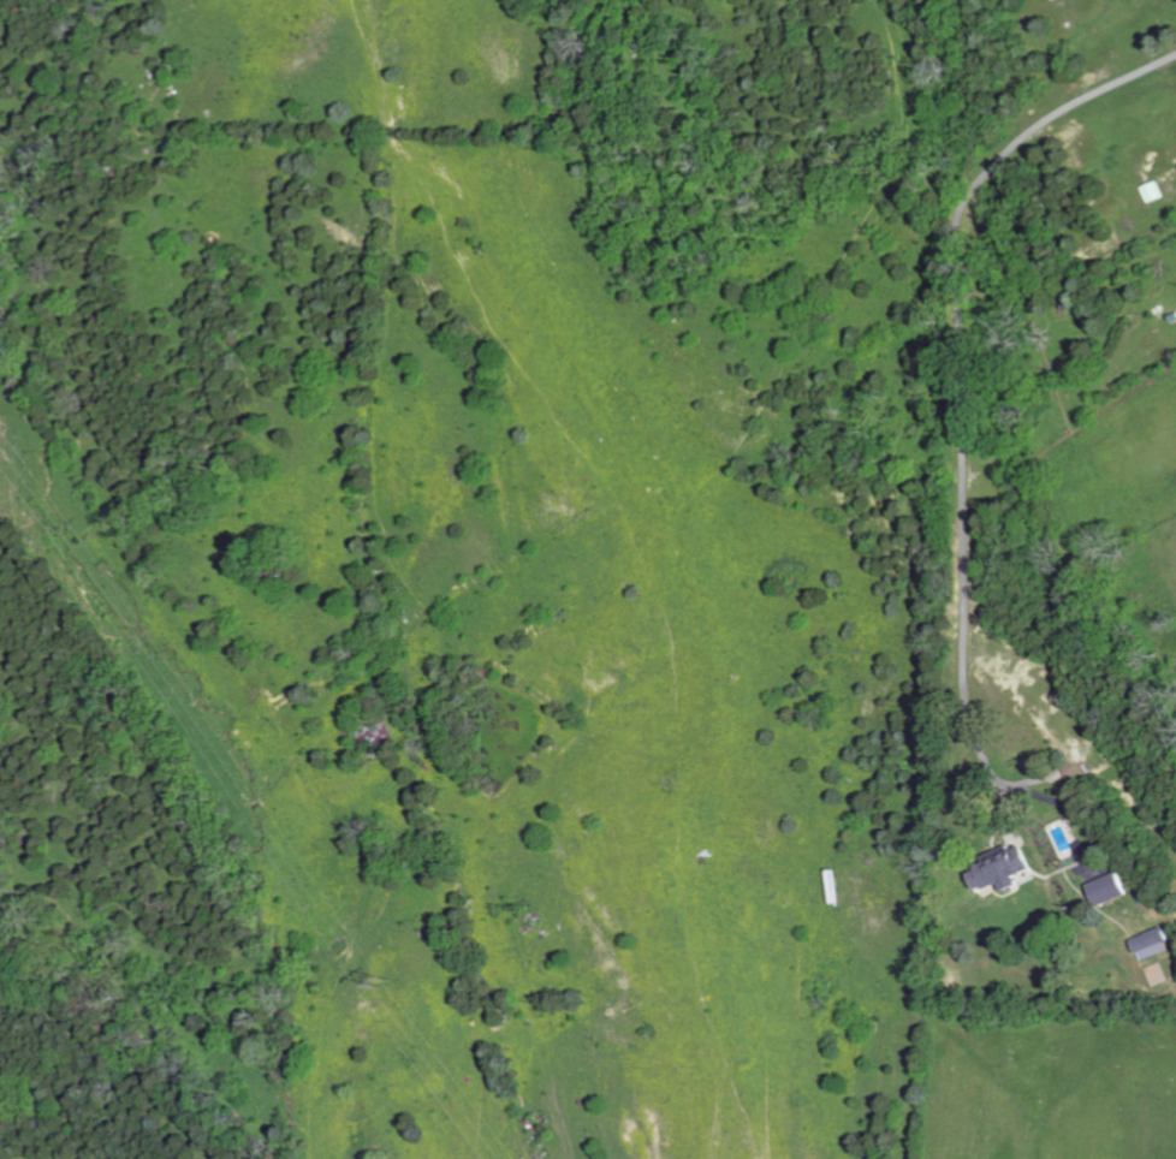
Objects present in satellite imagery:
road: (1021, 7)
building: (1157, 191)
building: (1005, 868)
building: (1115, 888)
building: (1157, 944)

